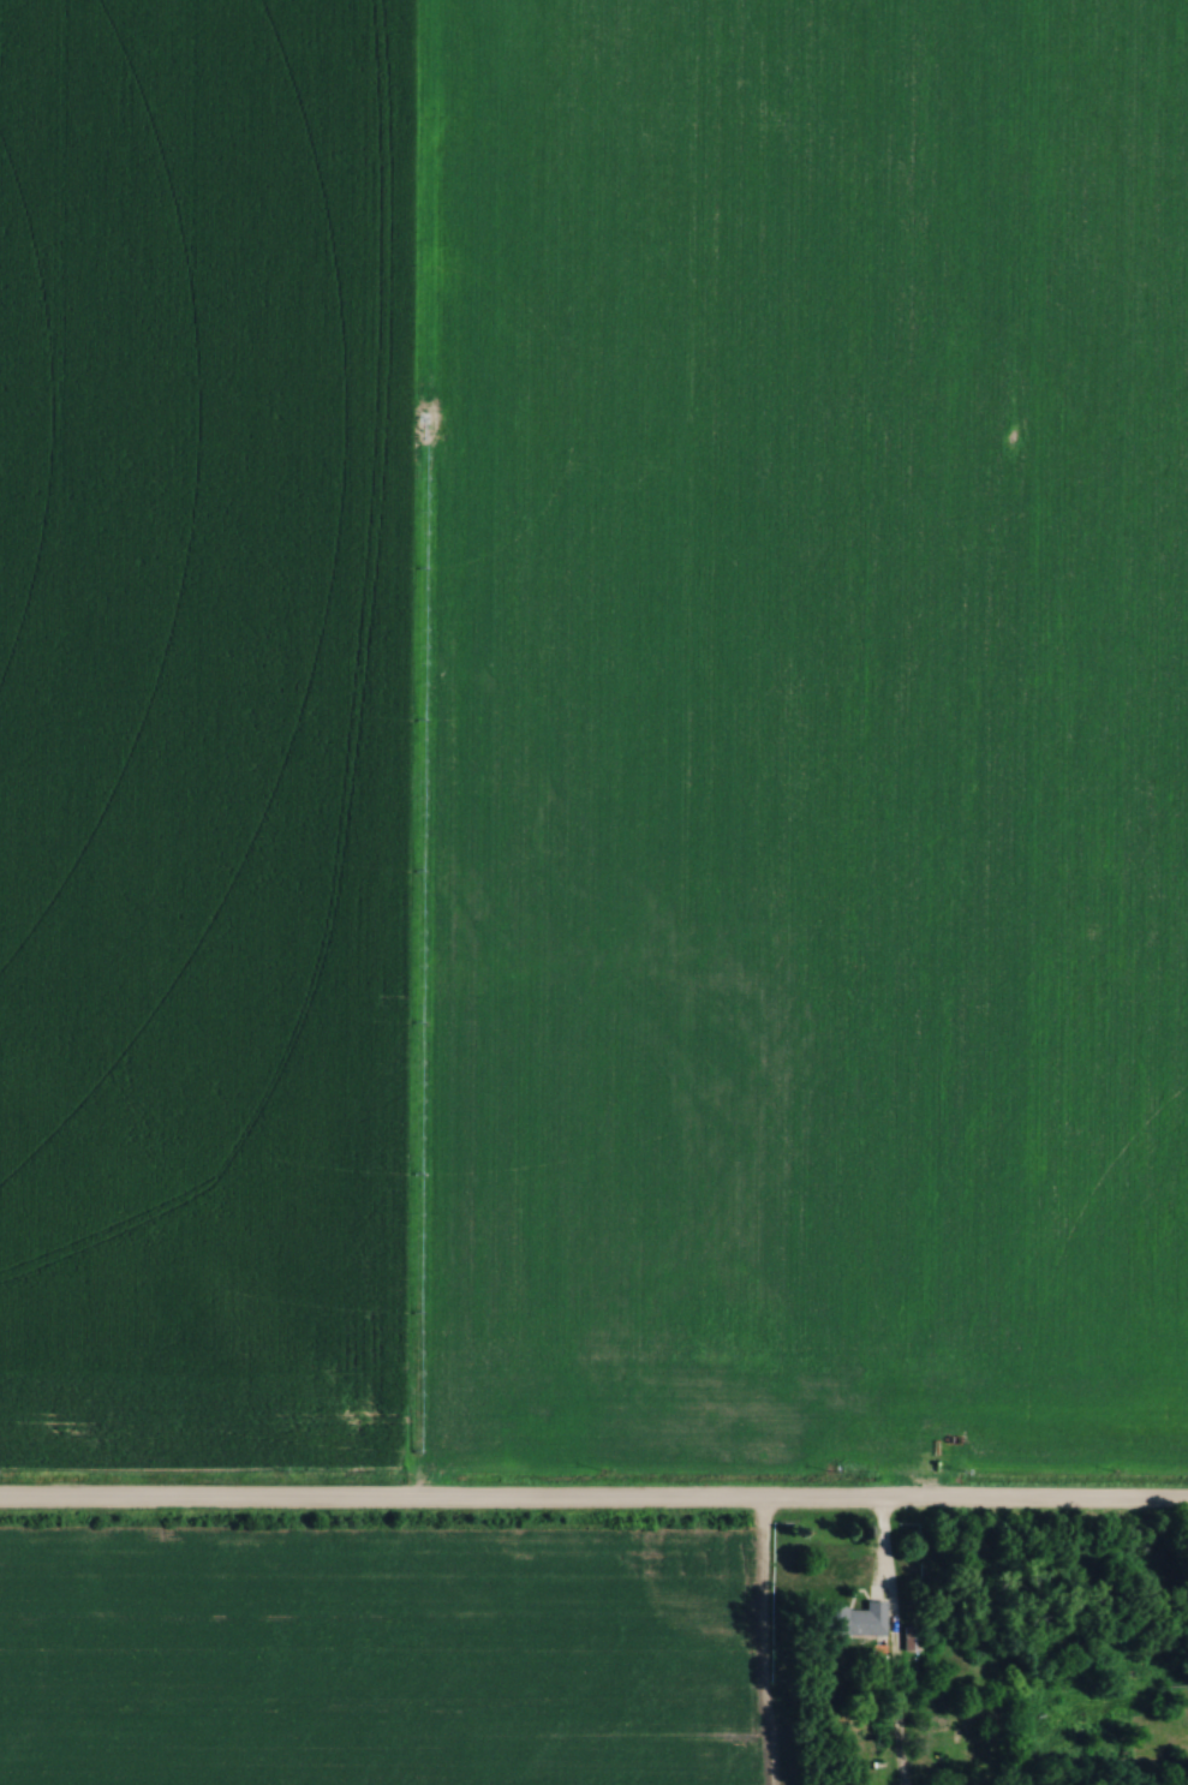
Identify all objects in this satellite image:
building: (1013, 401)
building: (973, 807)
road: (593, 1506)
road: (883, 1587)
building: (850, 1620)
building: (908, 1638)

